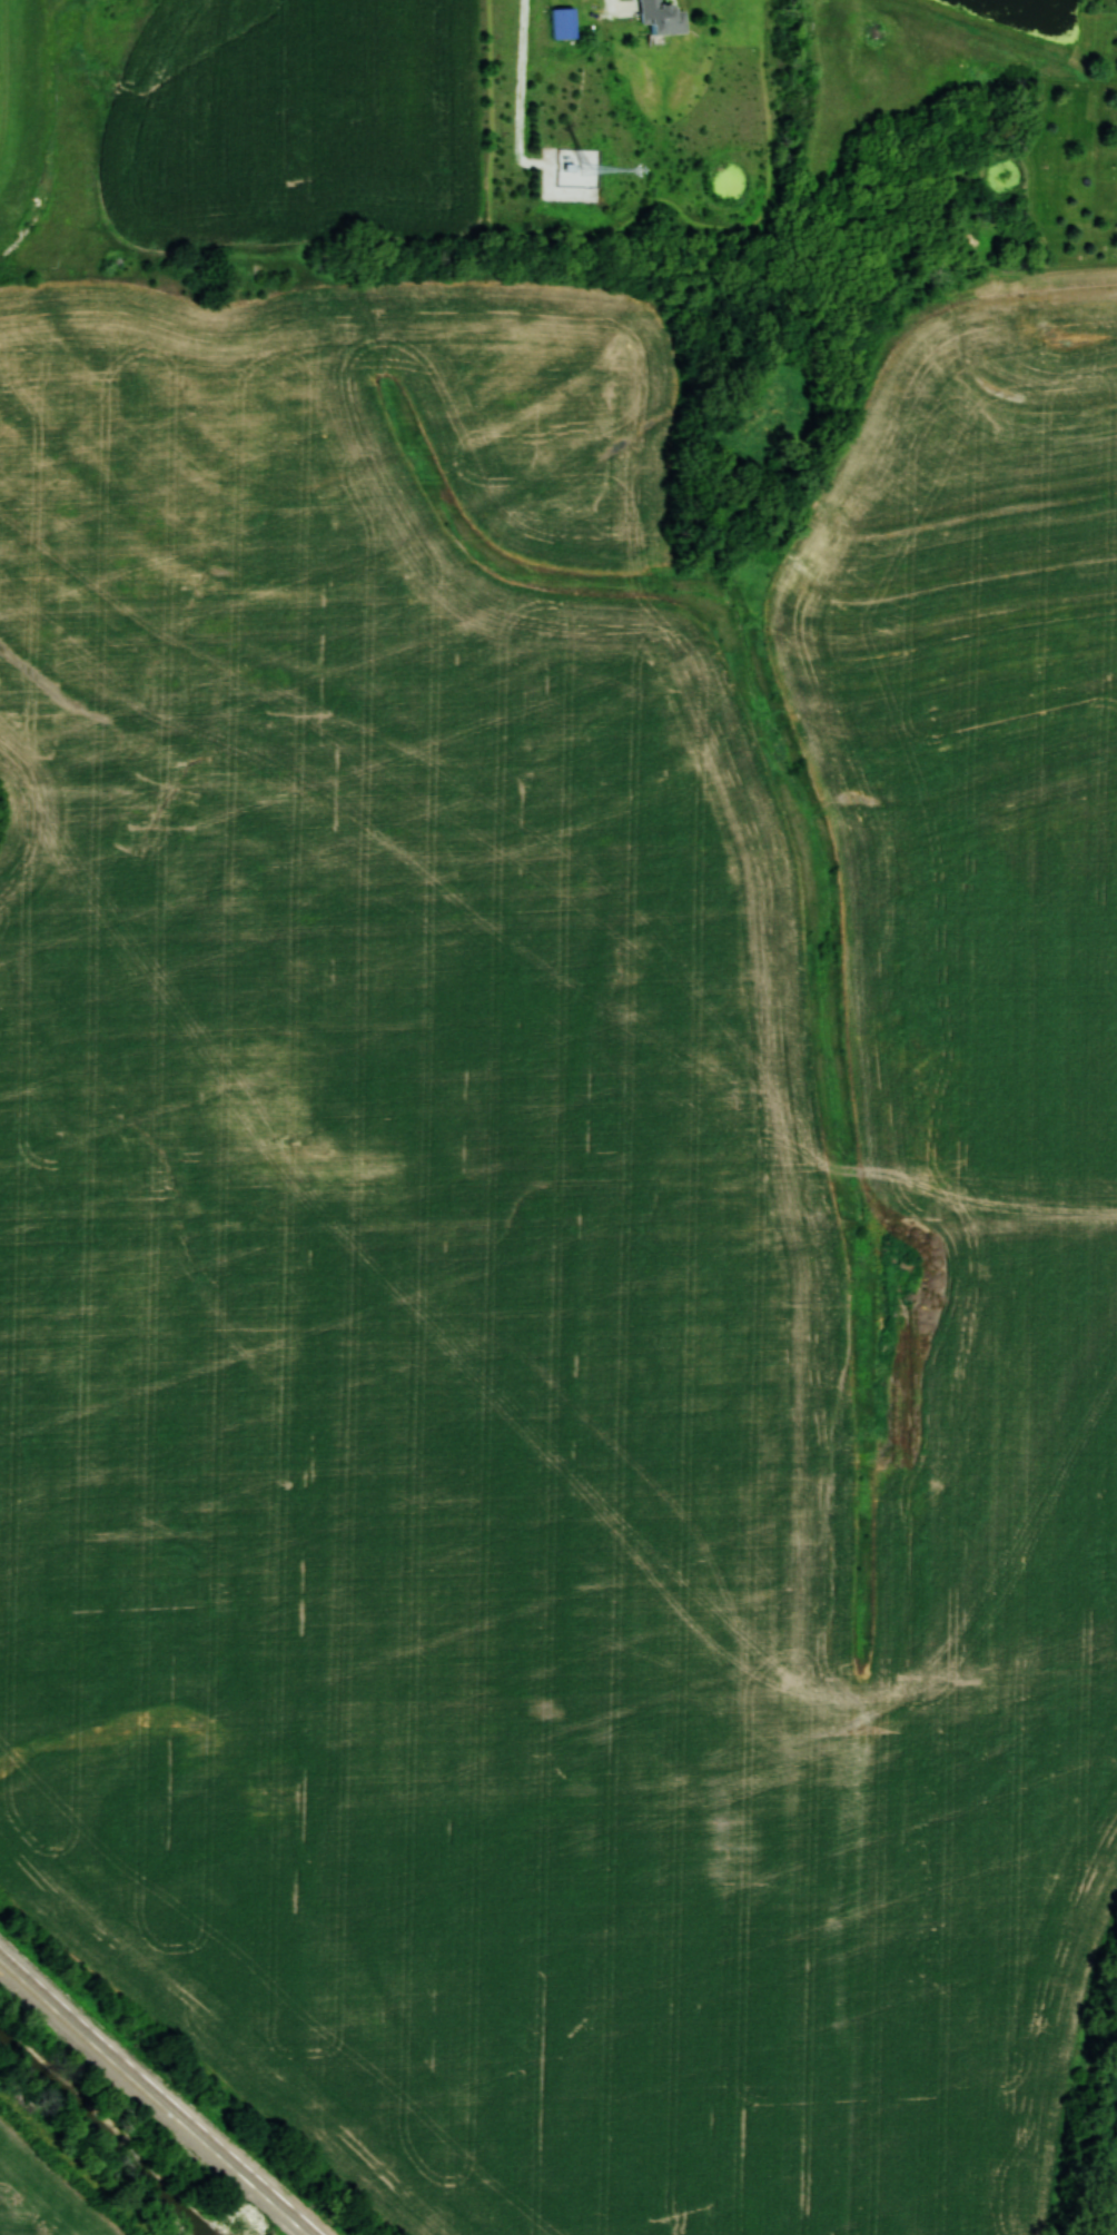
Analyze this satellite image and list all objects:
building: (665, 18)
building: (565, 23)
railway: (161, 2091)
railway: (151, 2096)

